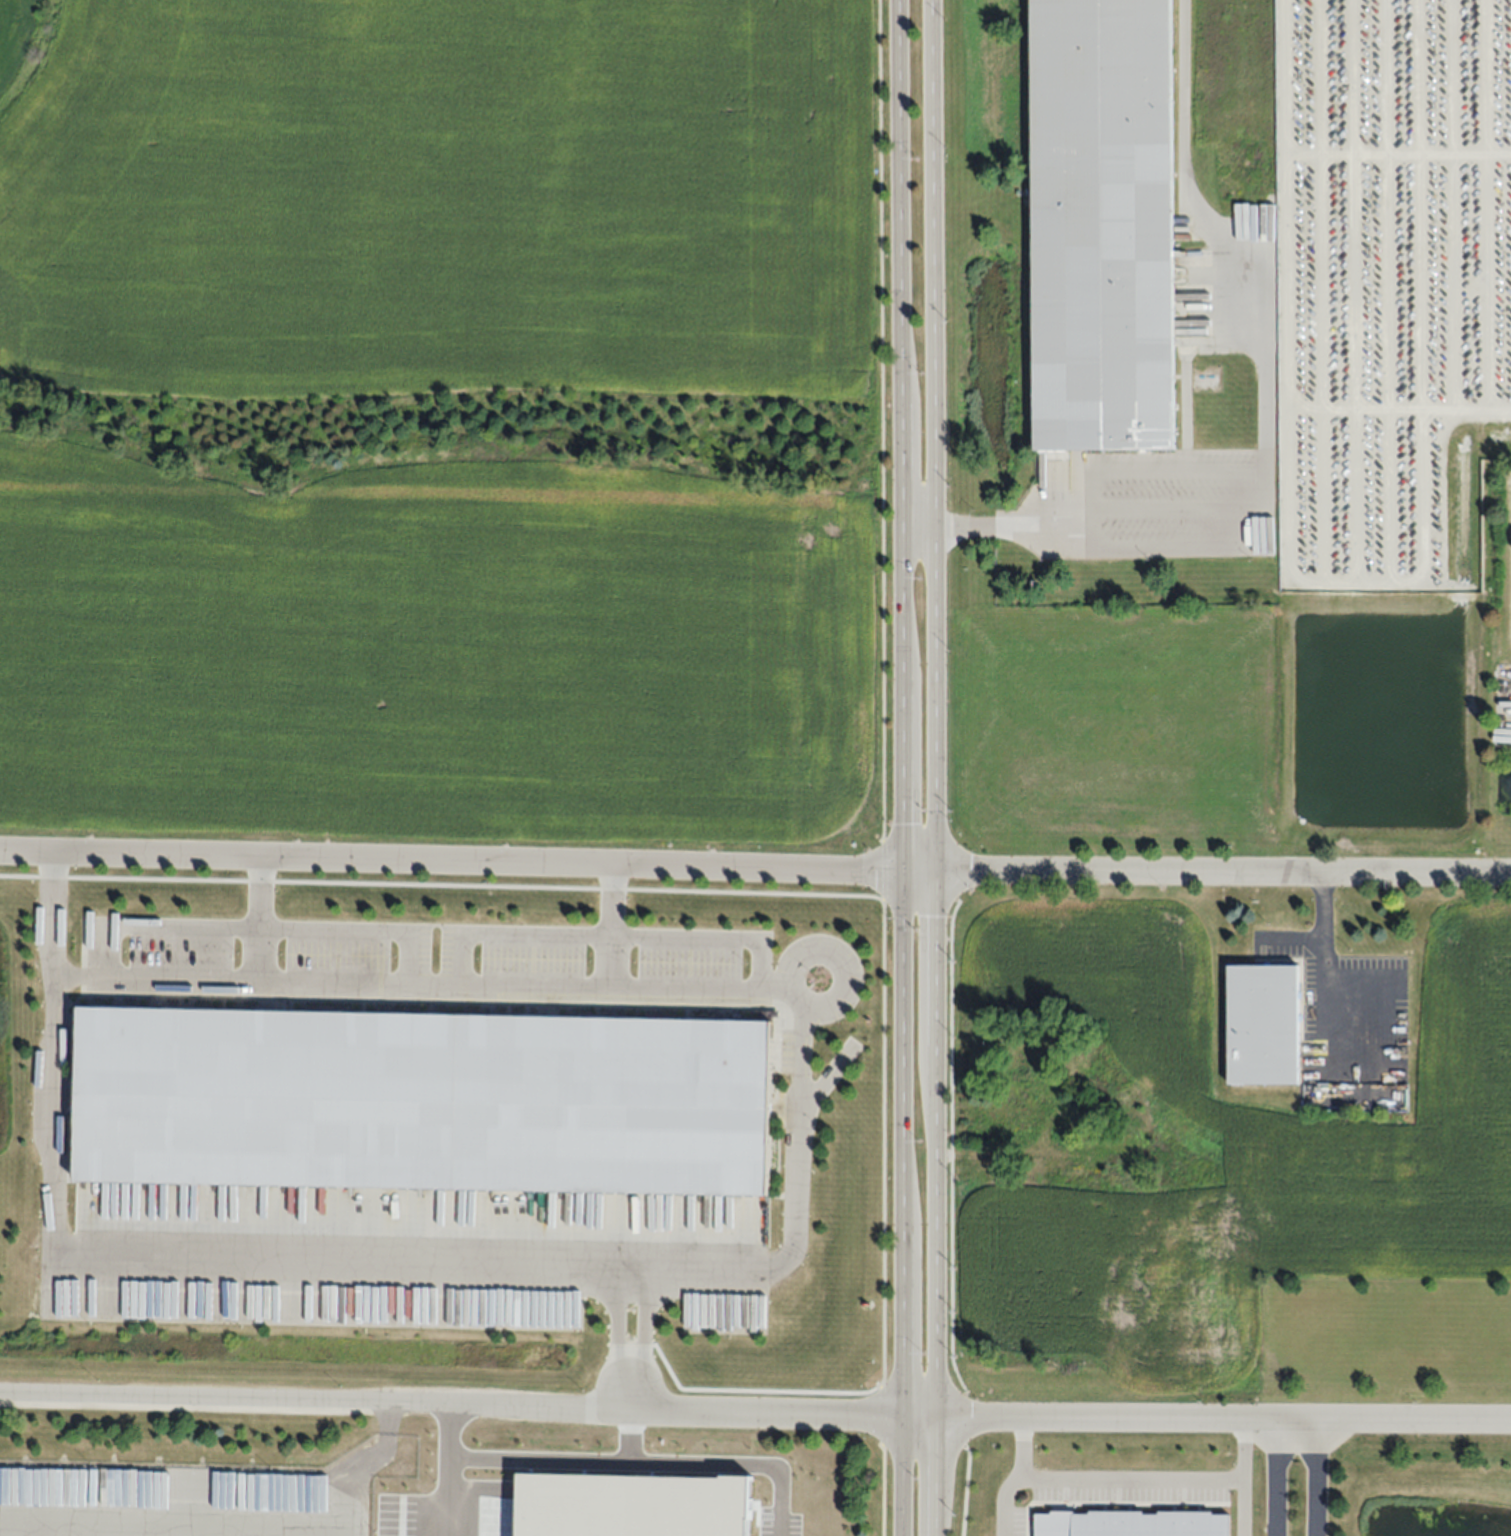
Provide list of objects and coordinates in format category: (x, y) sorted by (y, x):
building: (1099, 226)
road: (1256, 255)
road: (881, 420)
crop: (447, 423)
road: (1017, 526)
road: (1178, 547)
road: (900, 768)
road: (932, 768)
road: (755, 864)
road: (261, 915)
road: (262, 921)
road: (613, 925)
road: (1294, 928)
road: (613, 934)
road: (1327, 969)
road: (425, 982)
building: (1264, 1023)
building: (417, 1094)
building: (1016, 1105)
building: (1097, 1162)
road: (364, 1262)
road: (627, 1267)
road: (316, 1399)
road: (1066, 1416)
road: (430, 1461)
road: (1135, 1477)
road: (1274, 1477)
road: (1319, 1477)
road: (1244, 1506)
building: (1134, 1525)

